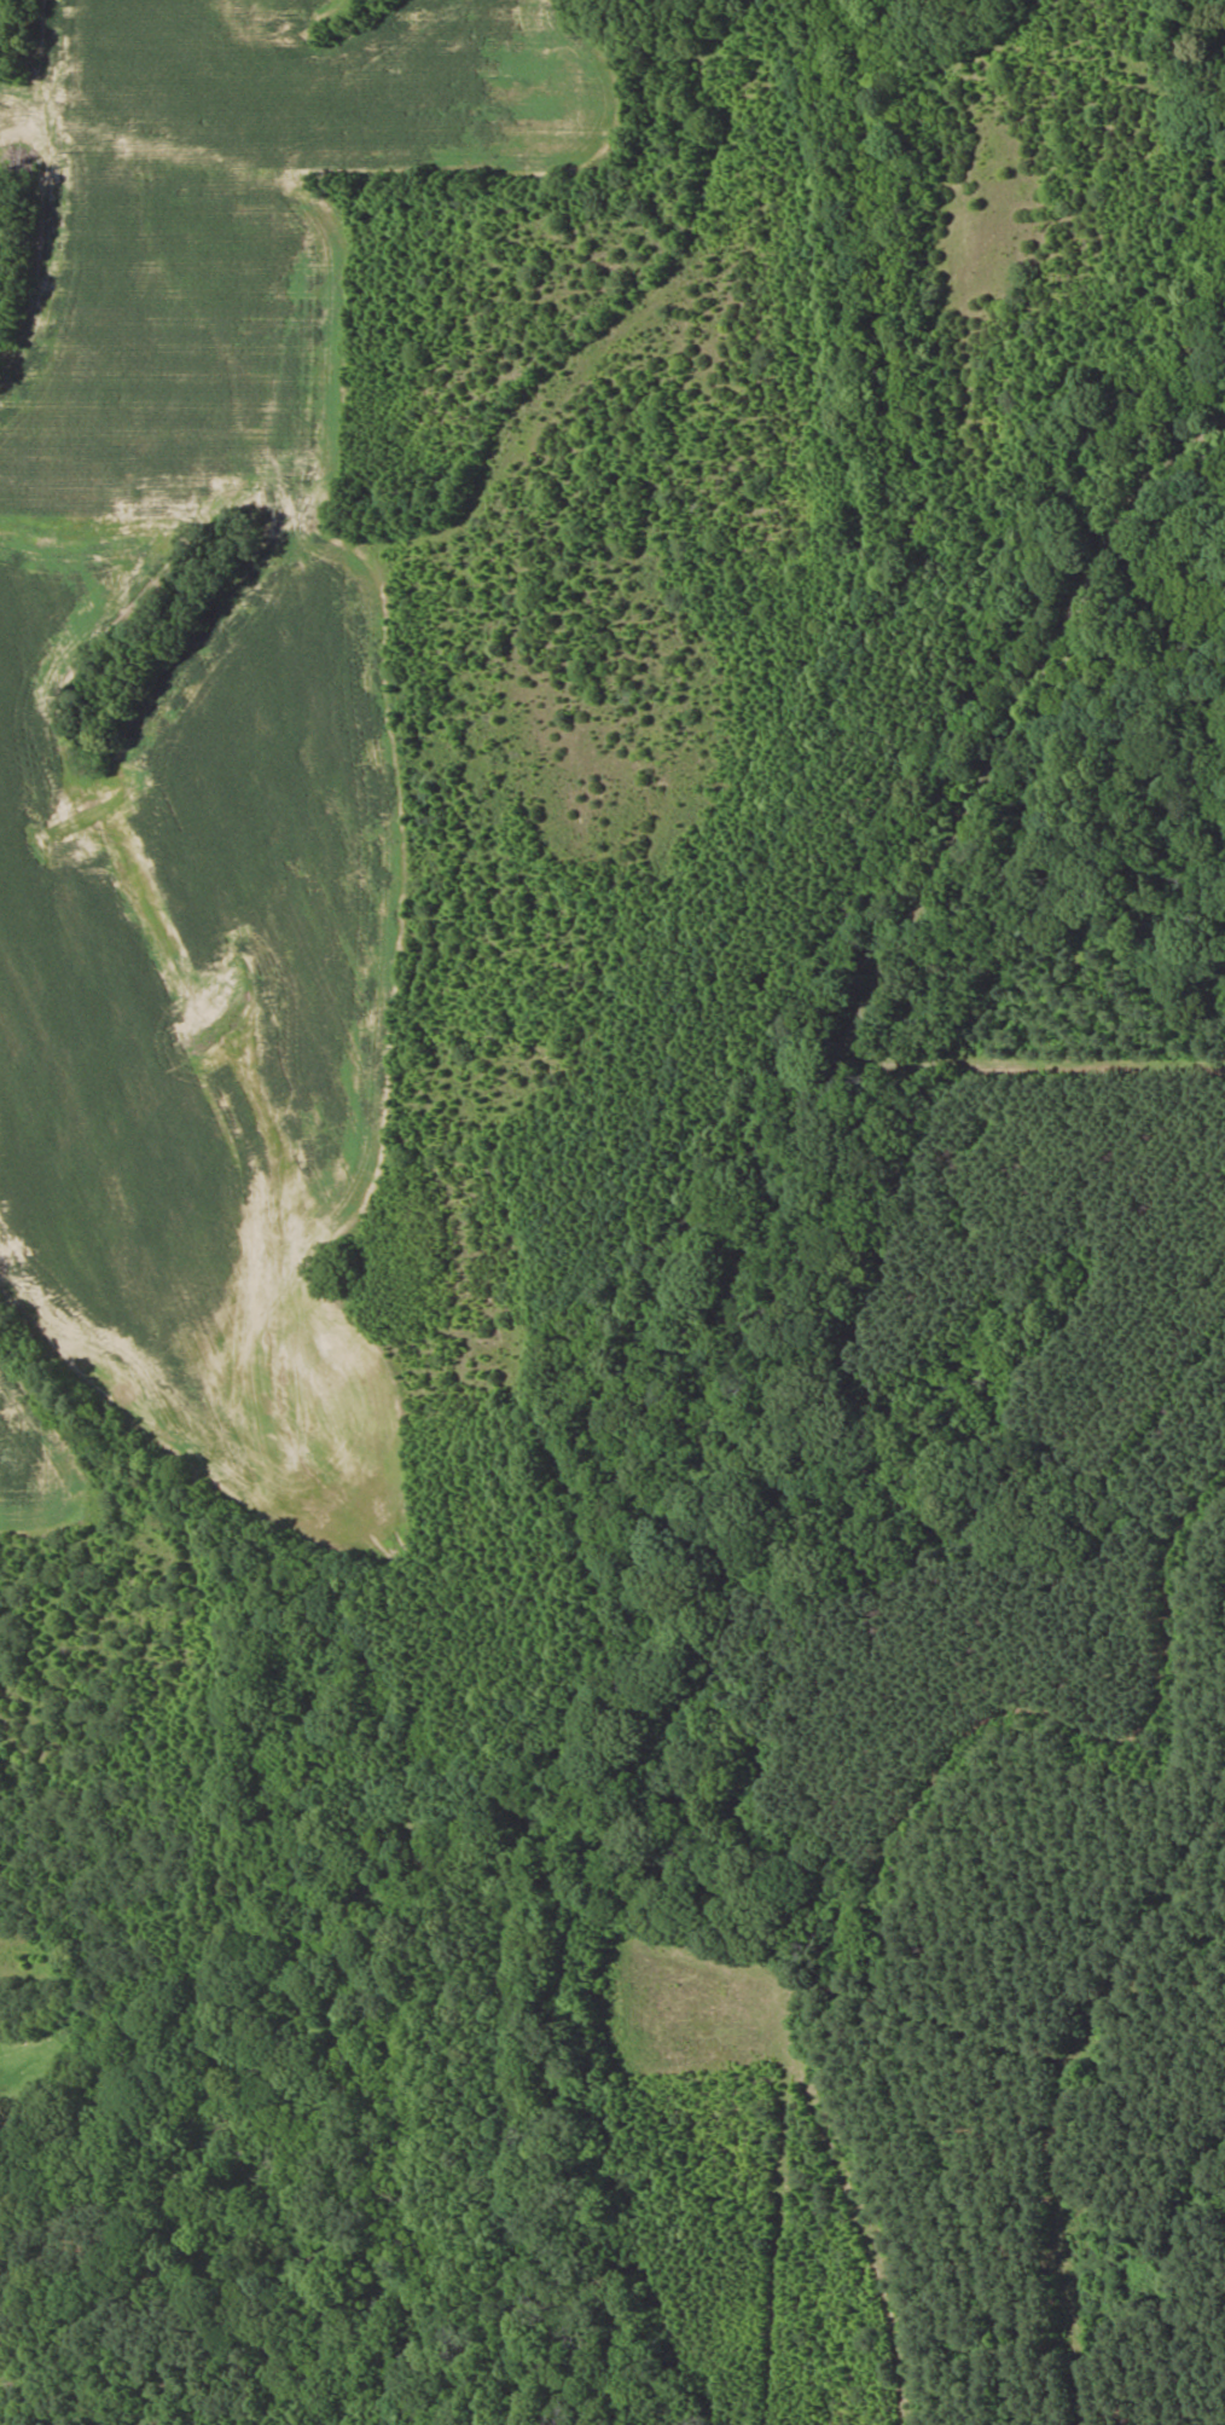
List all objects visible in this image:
road: (79, 2314)
road: (161, 2319)
building: (85, 2397)
road: (139, 2415)
road: (319, 2415)

